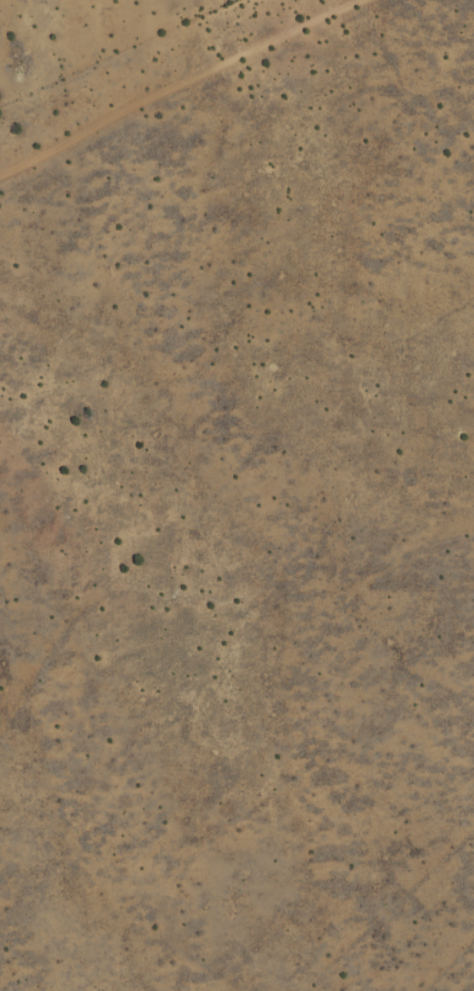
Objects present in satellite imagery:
road: (165, 70)

